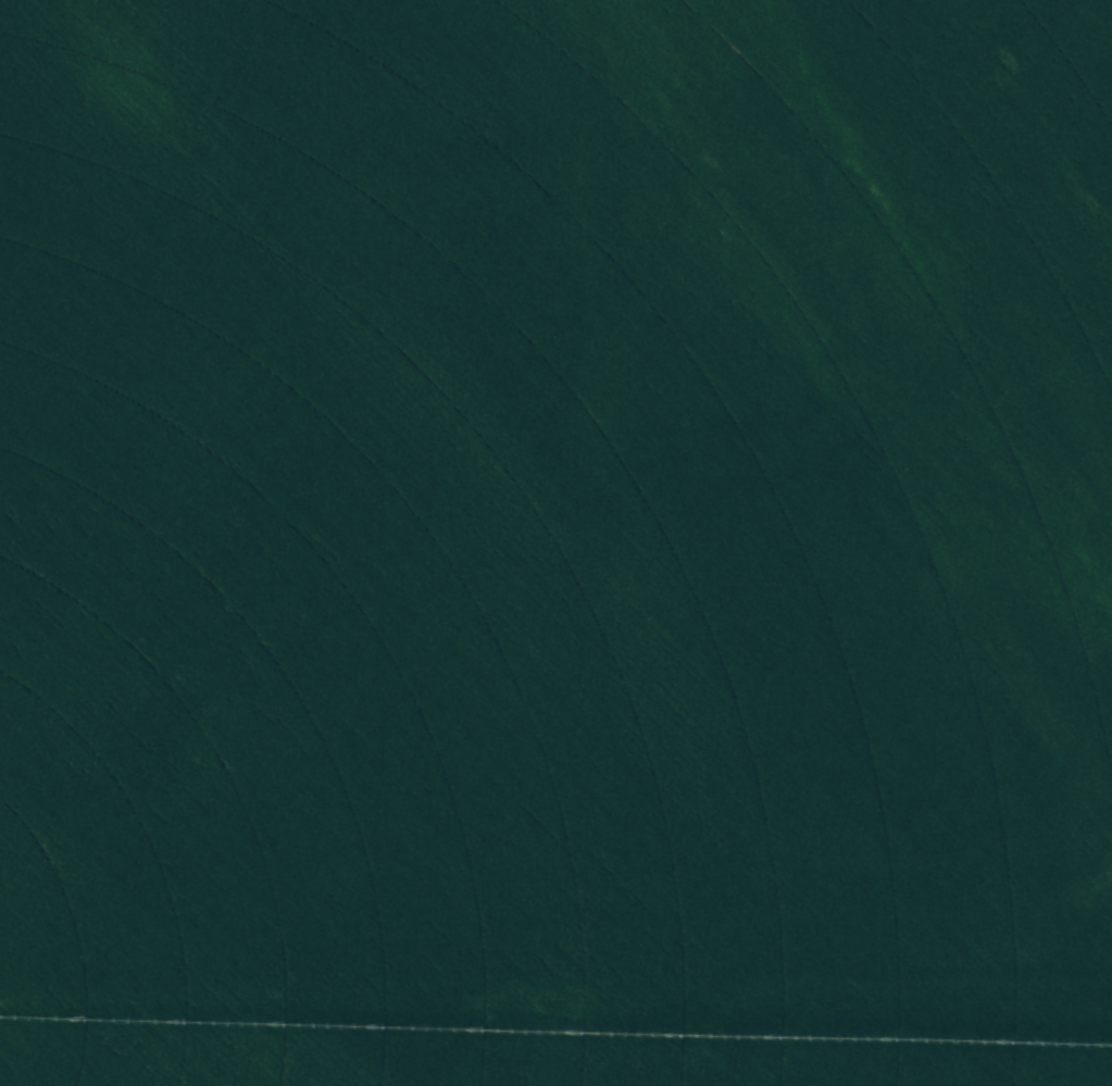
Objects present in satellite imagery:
building: (16, 832)

